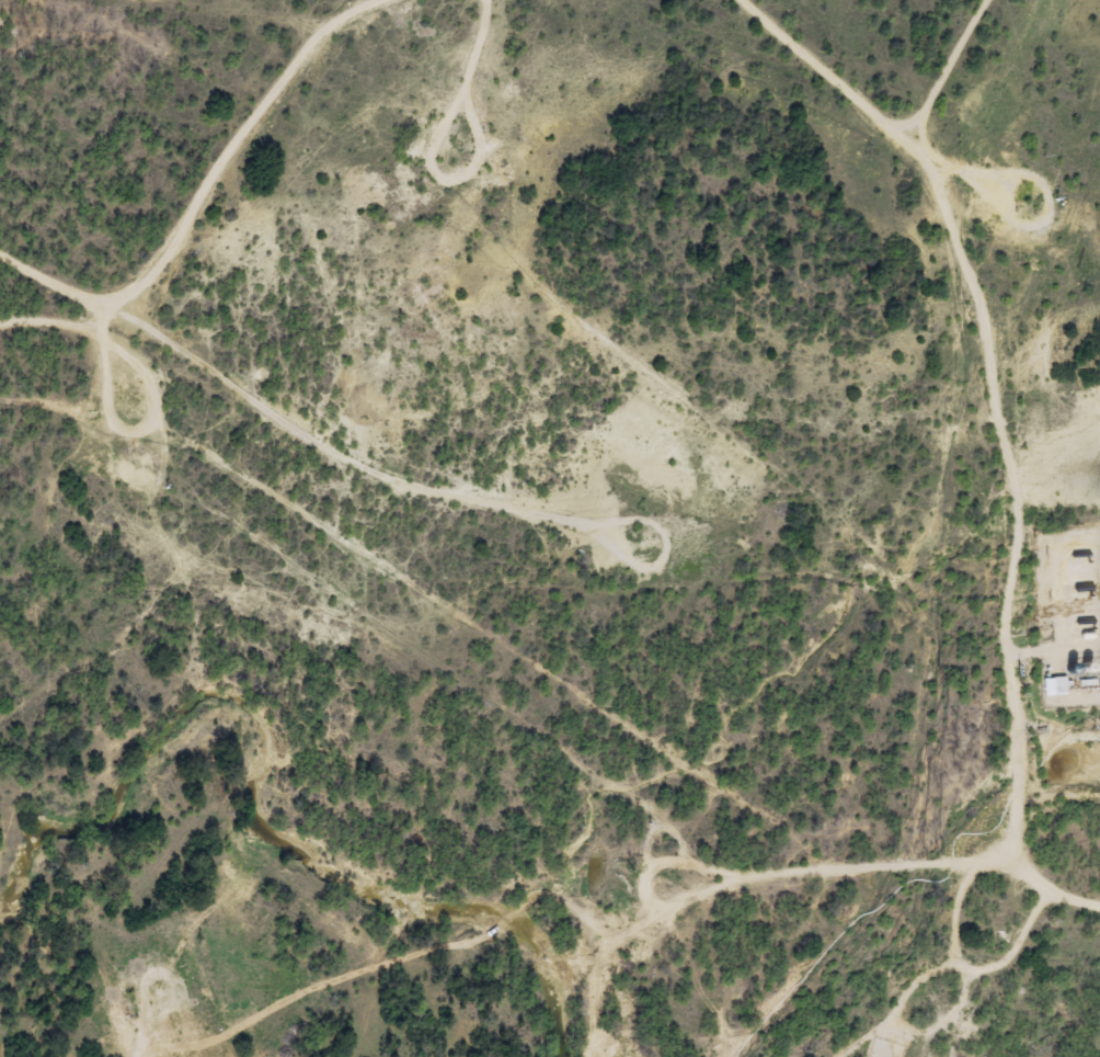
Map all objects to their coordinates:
building: (1044, 687)

